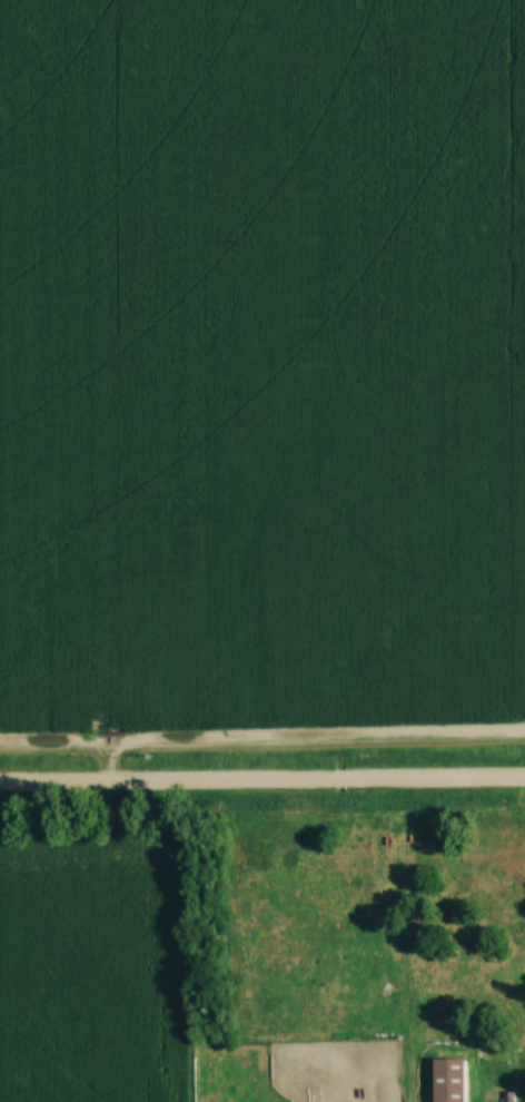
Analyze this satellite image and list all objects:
road: (262, 787)
building: (281, 1089)
building: (505, 1096)
building: (458, 1098)

